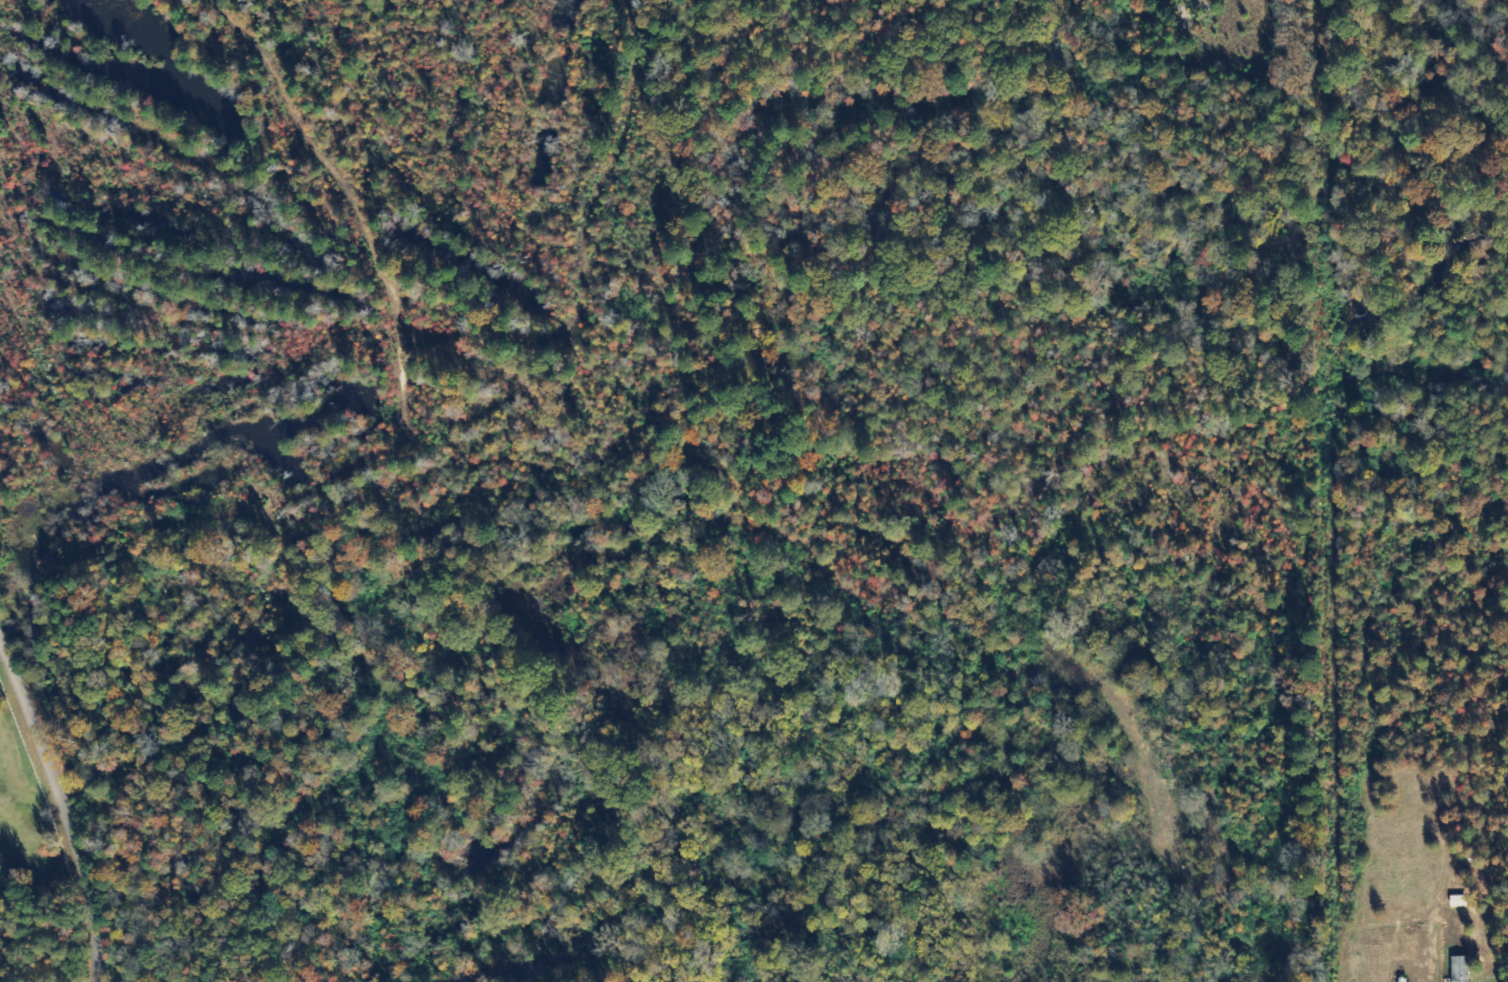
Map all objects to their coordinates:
road: (1337, 16)
road: (17, 715)
road: (68, 801)
building: (1458, 901)
building: (1460, 969)

